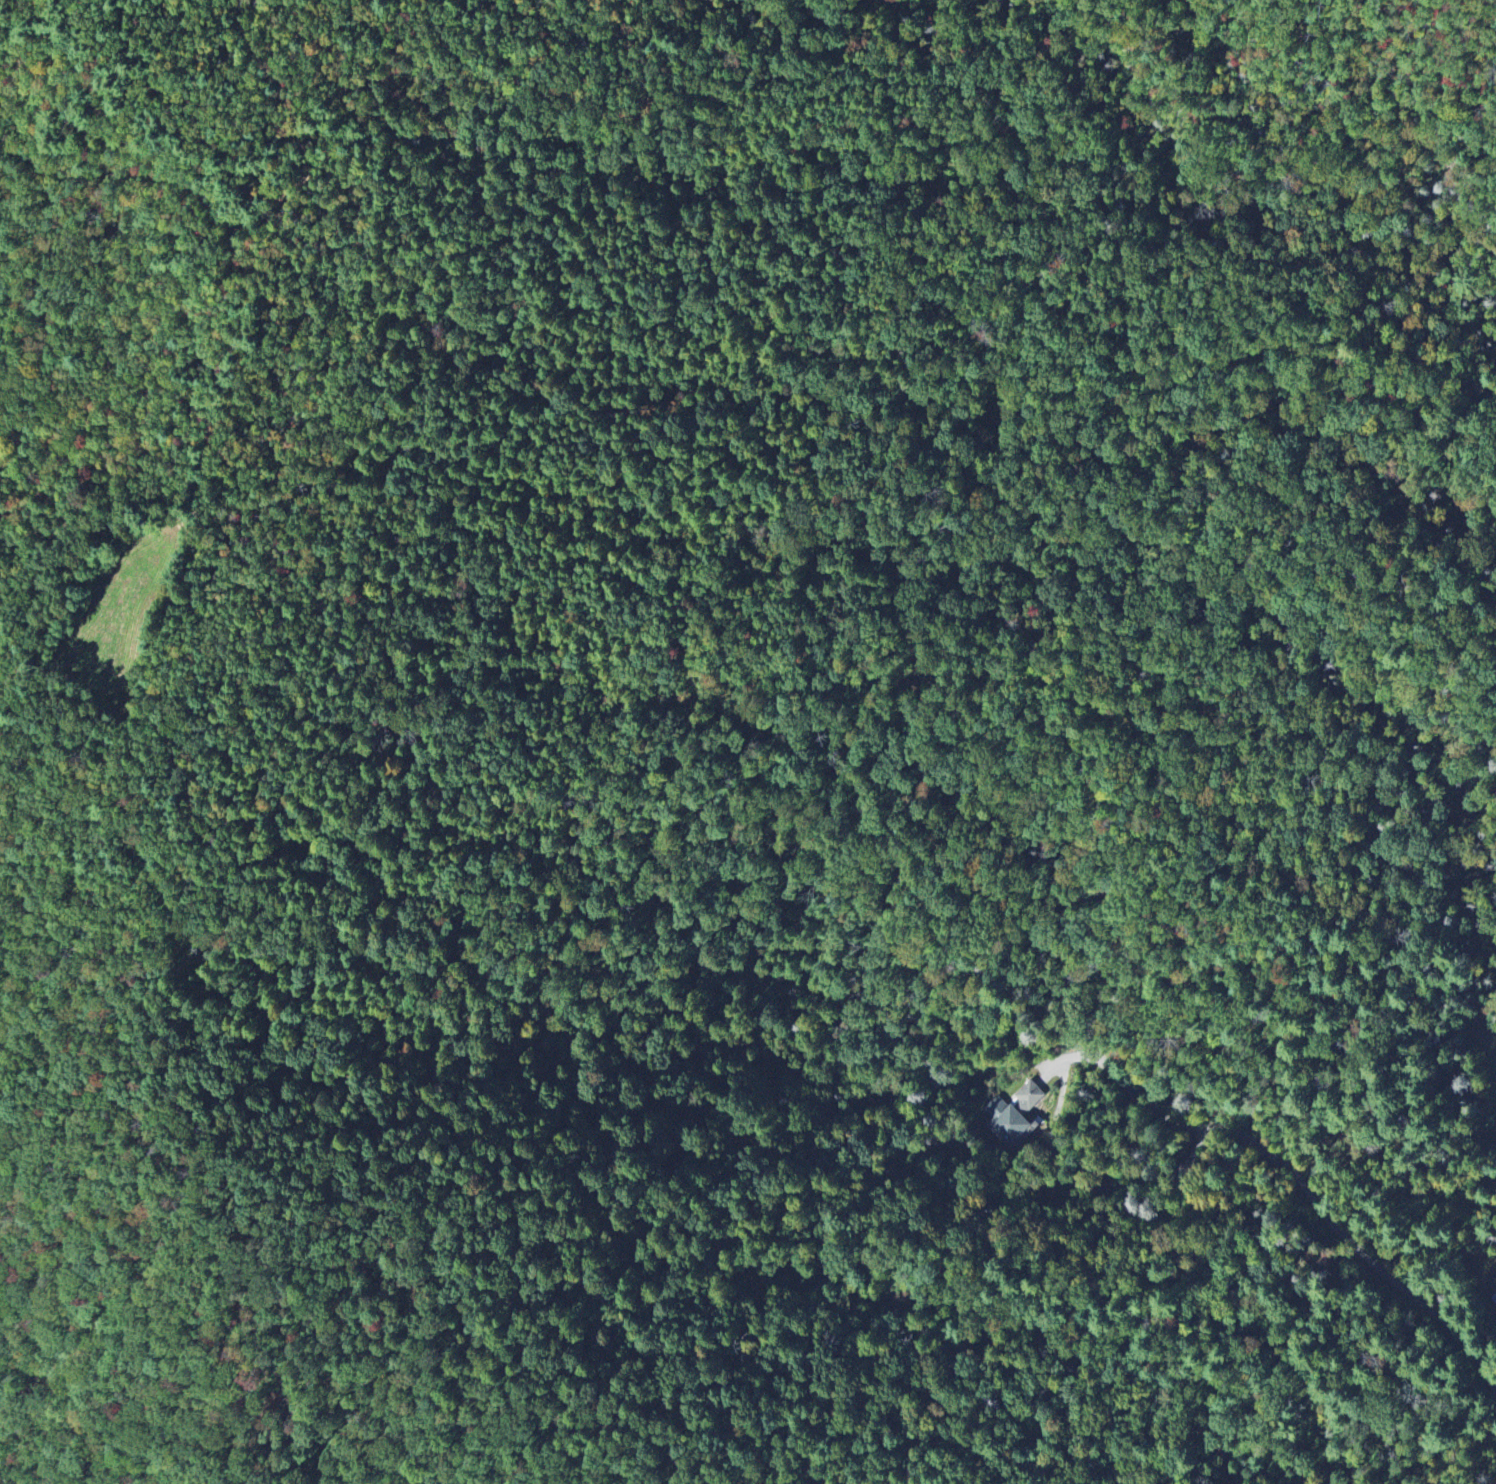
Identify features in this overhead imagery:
building: (1014, 1121)
road: (1299, 1180)

